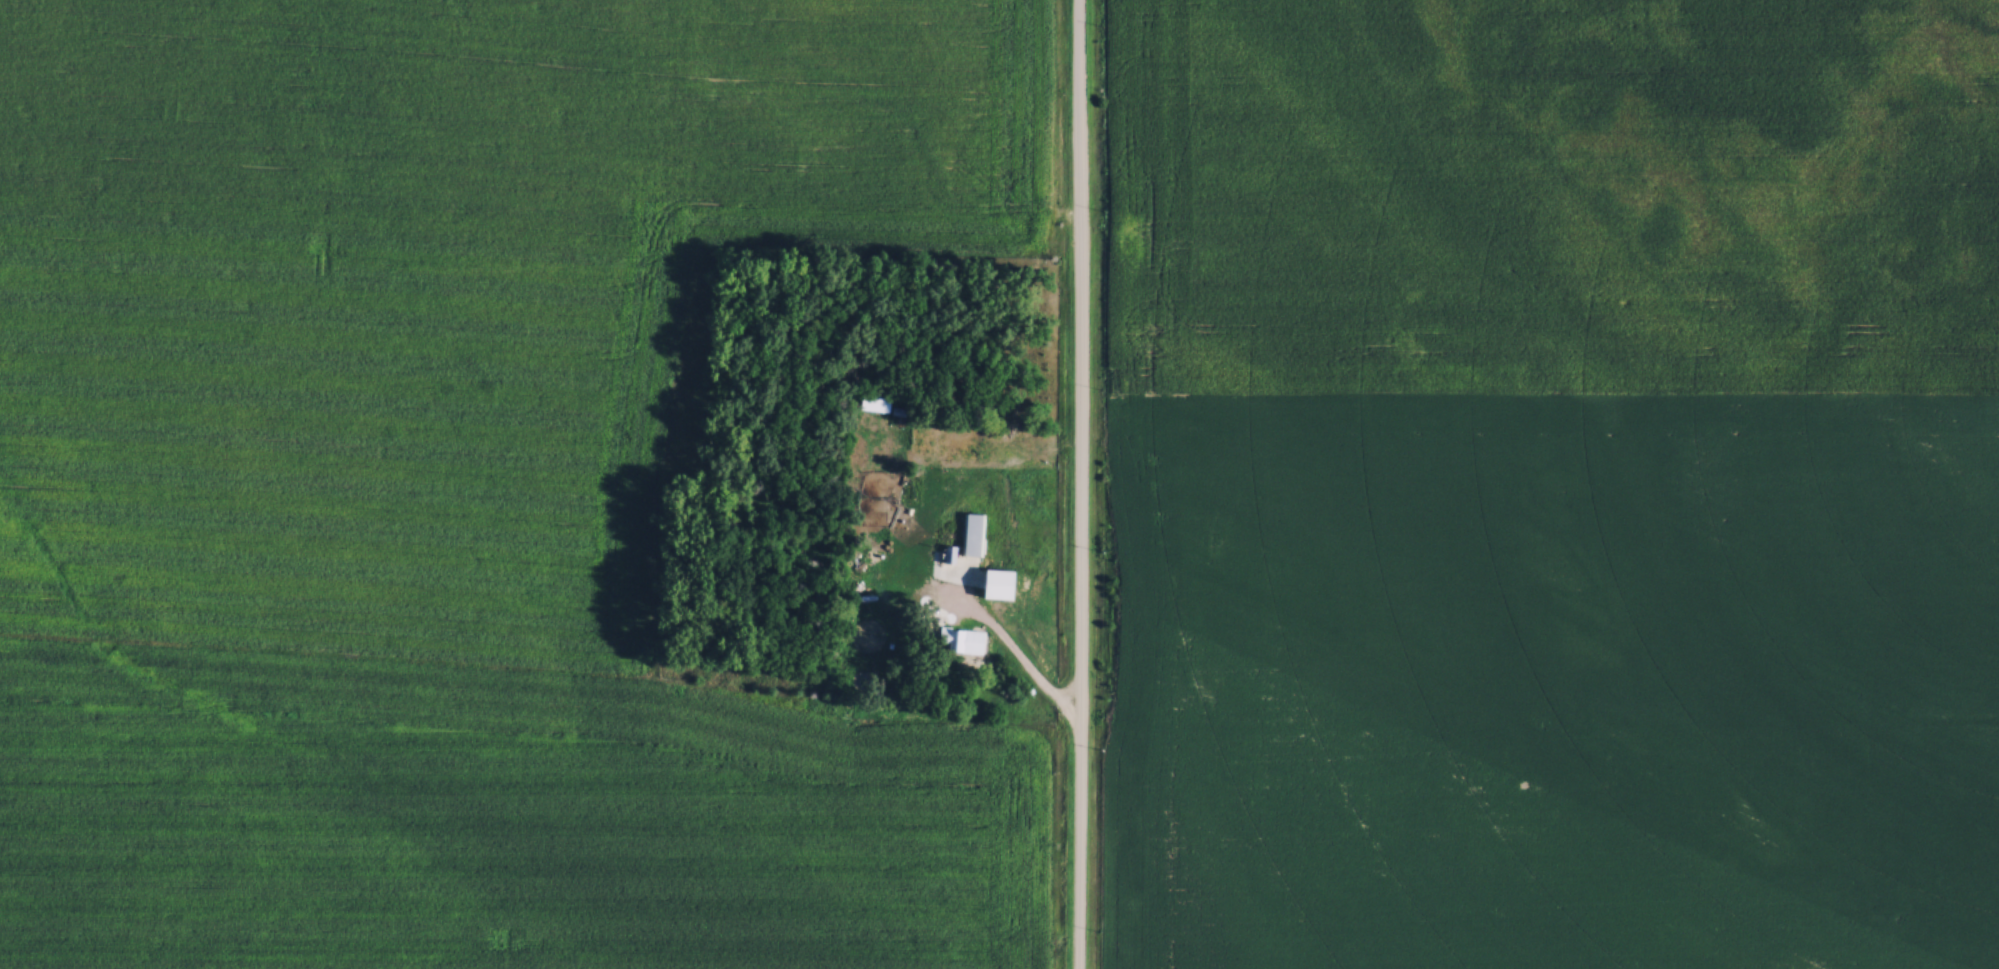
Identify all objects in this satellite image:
road: (1003, 463)
road: (1081, 484)
building: (974, 533)
building: (947, 553)
building: (960, 640)
road: (1019, 661)

